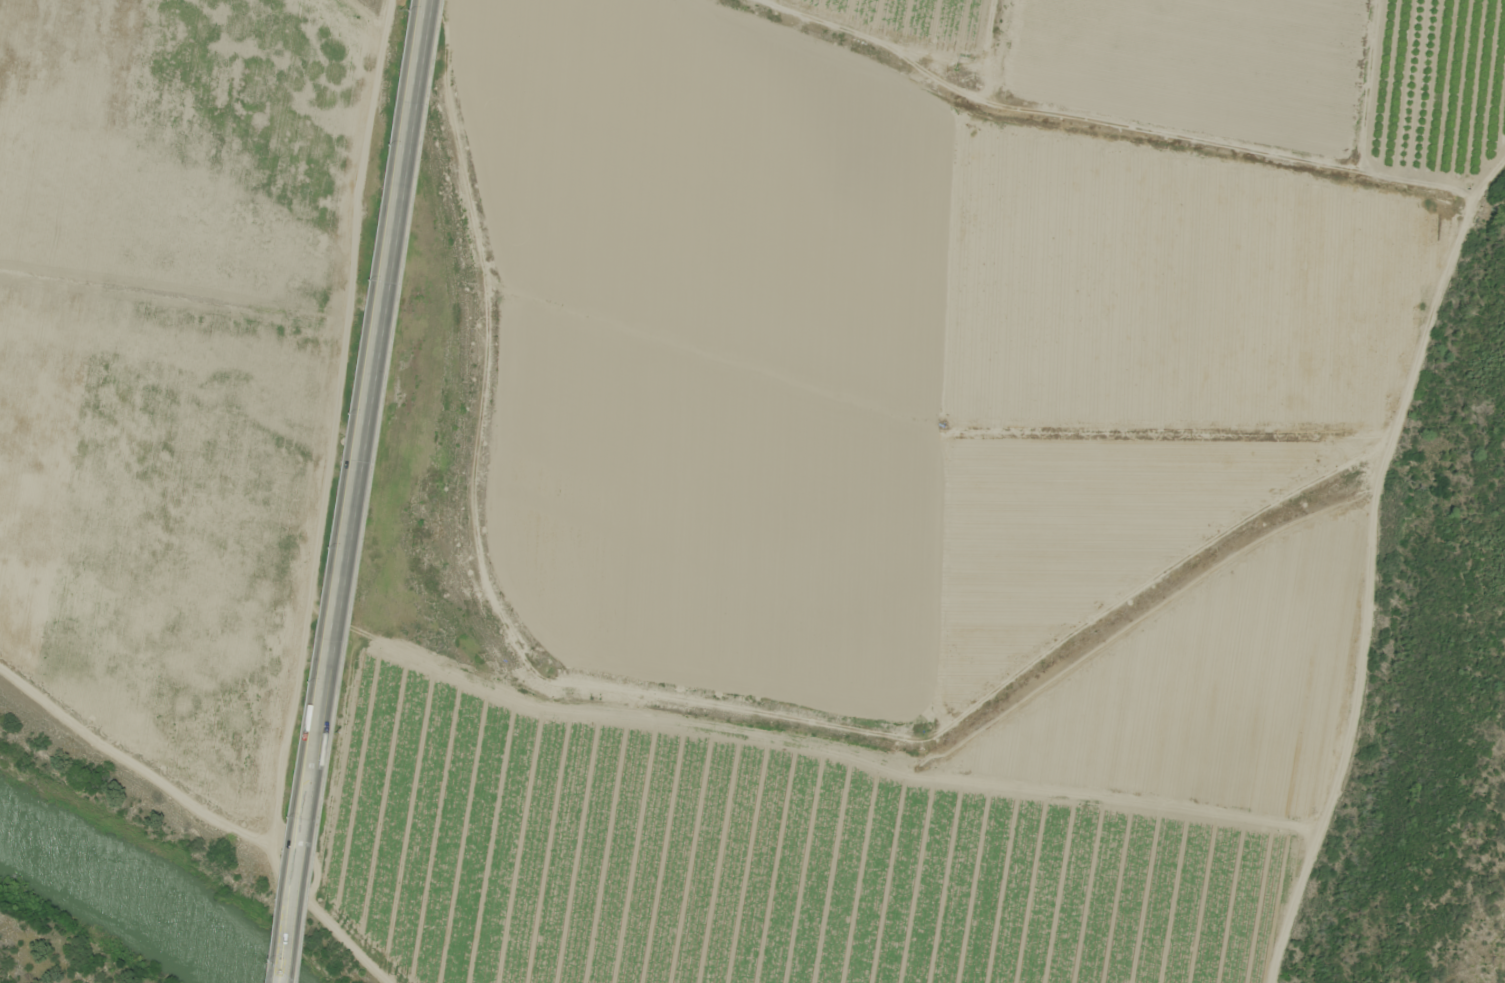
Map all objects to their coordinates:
road: (357, 444)
river: (144, 890)
road: (282, 935)

